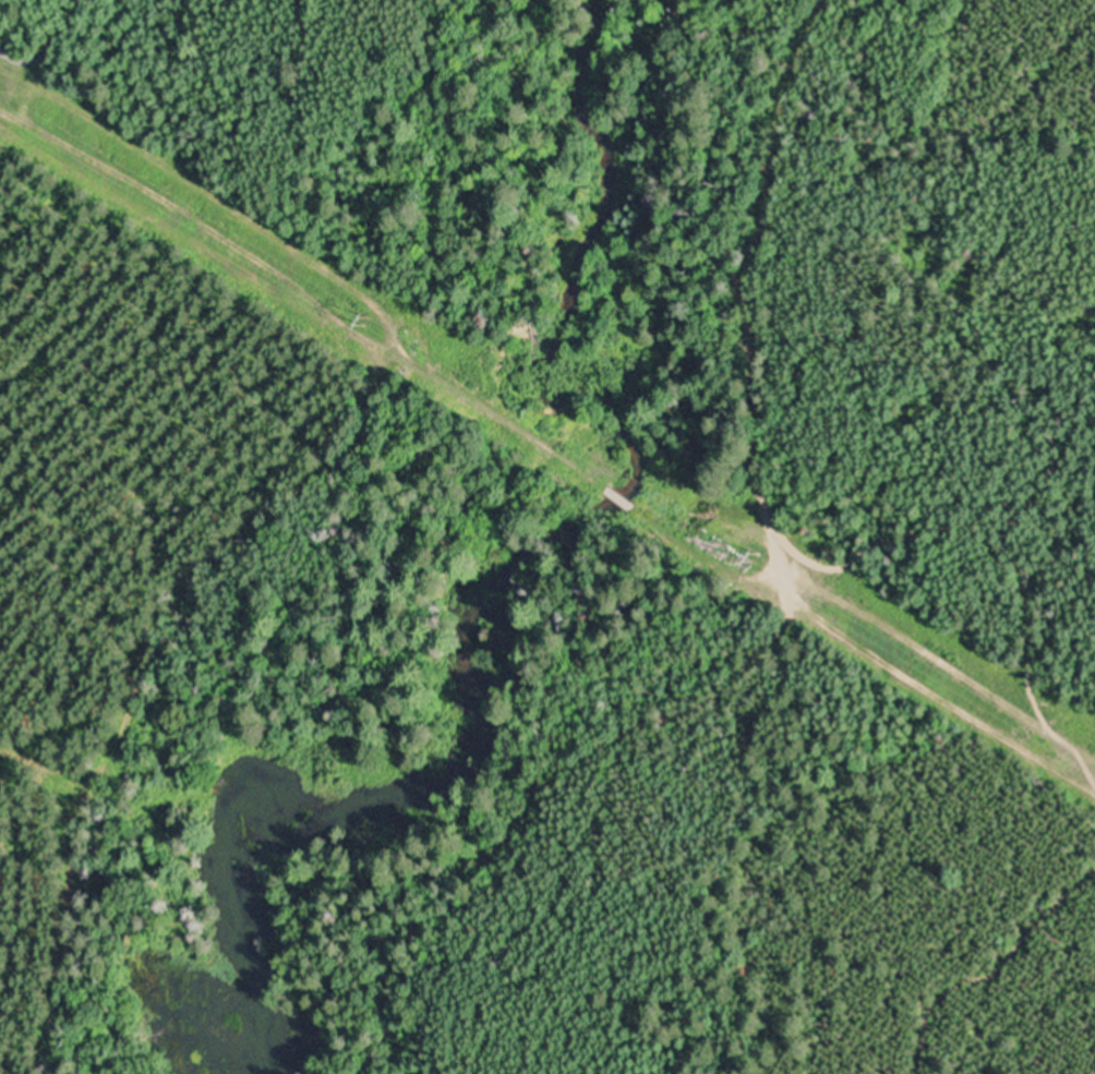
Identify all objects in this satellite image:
road: (129, 133)
power tower: (361, 314)
power tower: (744, 545)

